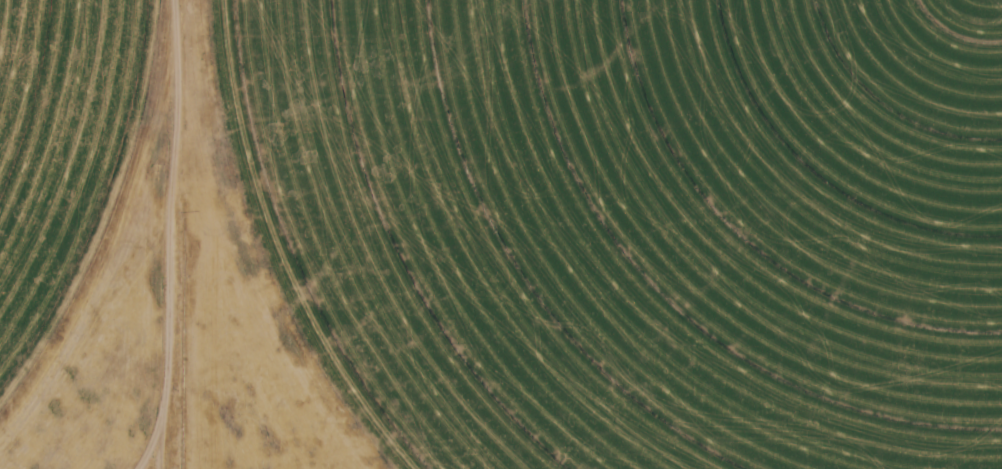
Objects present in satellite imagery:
crop: (63, 164)
crop: (638, 225)
road: (162, 234)
road: (143, 450)

